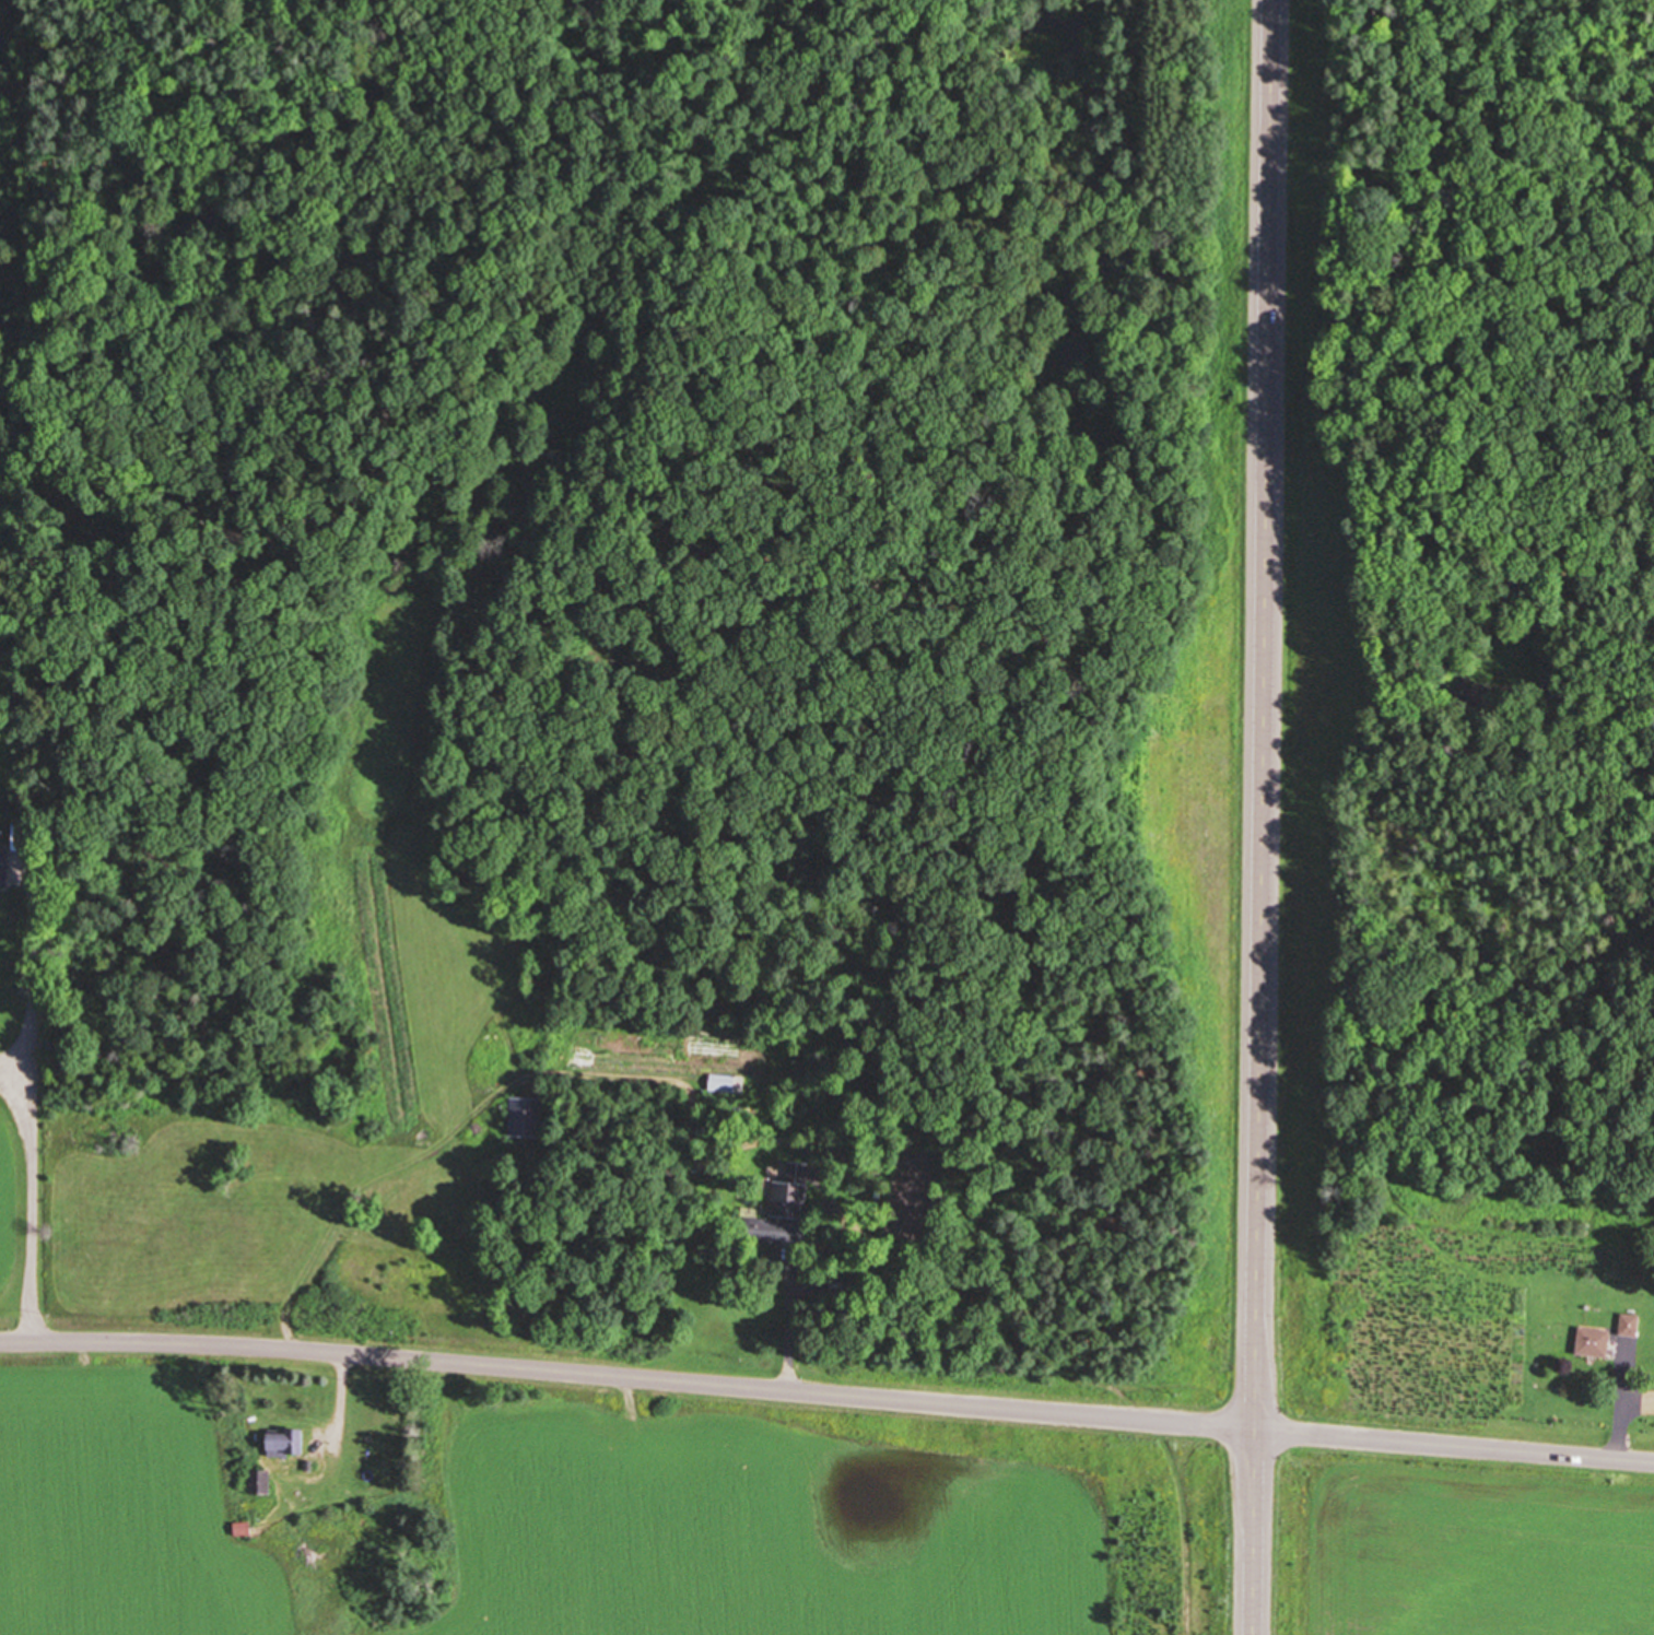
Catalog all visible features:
road: (1259, 816)
building: (3, 868)
building: (726, 1084)
road: (32, 1116)
building: (526, 1118)
building: (789, 1192)
building: (1631, 1325)
road: (791, 1331)
building: (1595, 1342)
road: (341, 1392)
road: (826, 1392)
road: (1622, 1421)
building: (288, 1444)
building: (262, 1483)

